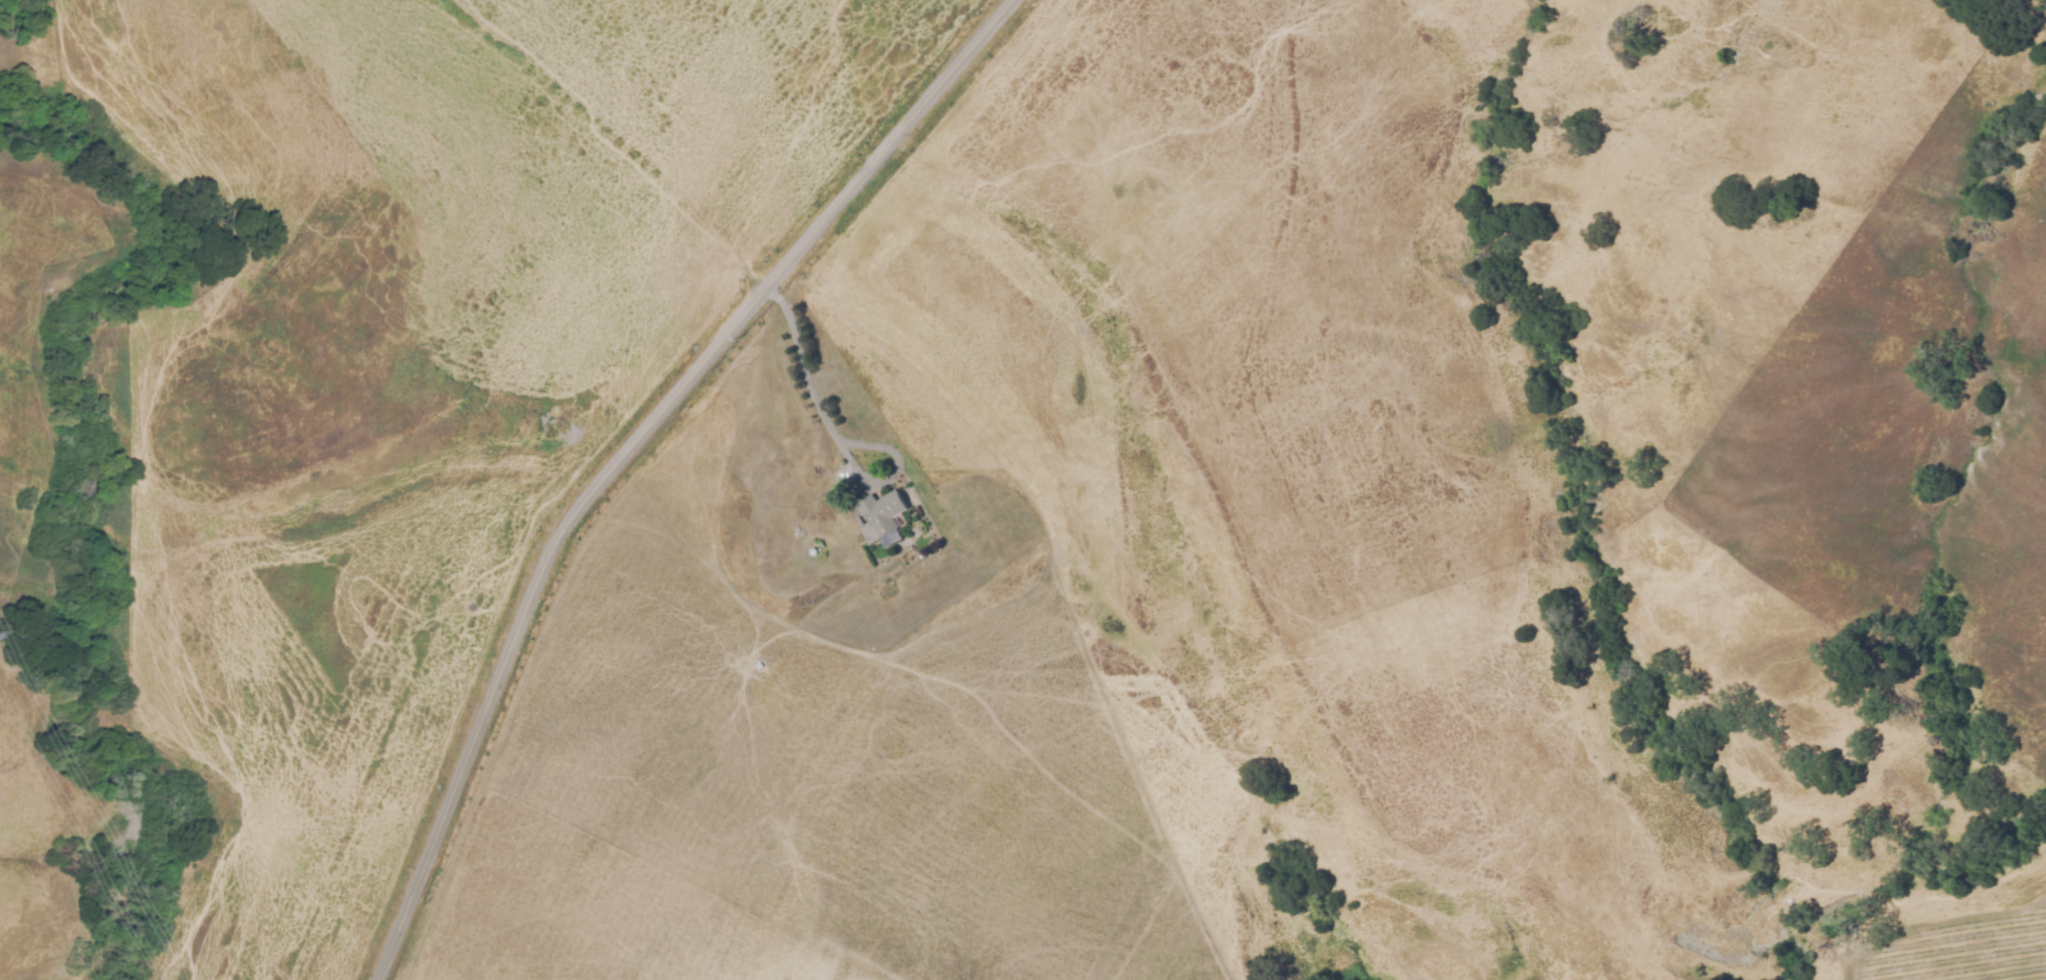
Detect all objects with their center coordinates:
road: (809, 380)
road: (628, 449)
building: (881, 516)

